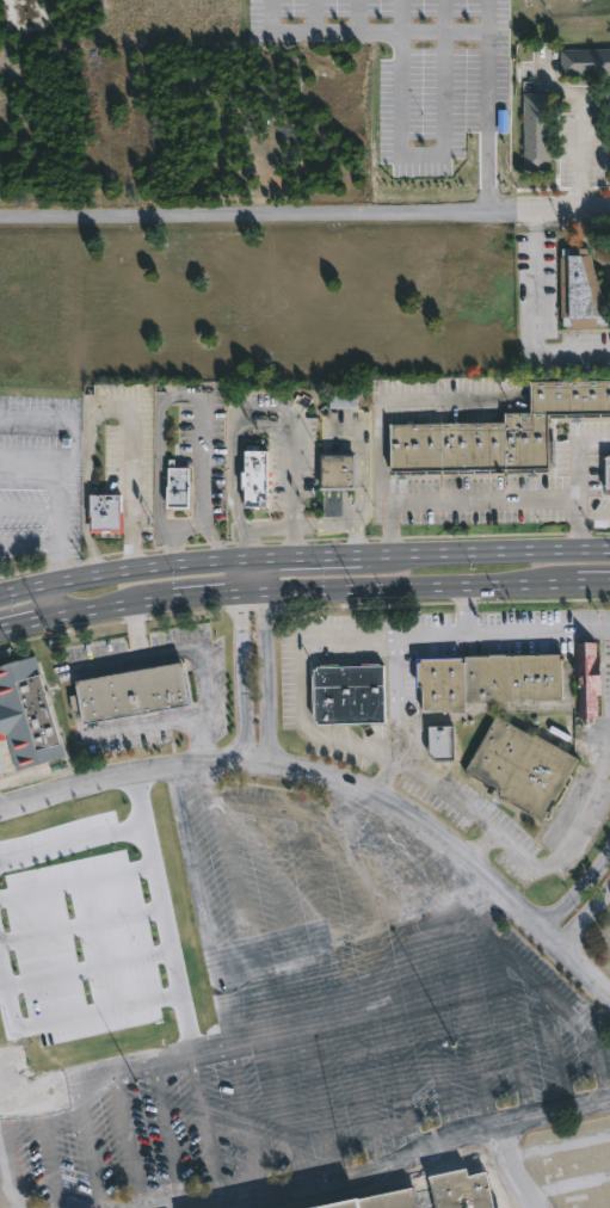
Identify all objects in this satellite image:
road: (314, 16)
road: (357, 17)
road: (401, 17)
road: (443, 17)
road: (363, 33)
building: (585, 61)
road: (485, 106)
road: (578, 129)
building: (537, 130)
road: (421, 154)
road: (304, 215)
building: (581, 290)
road: (534, 316)
road: (171, 395)
building: (344, 400)
road: (32, 418)
building: (73, 429)
building: (498, 431)
parking lot: (44, 456)
road: (292, 468)
building: (338, 469)
building: (255, 475)
building: (609, 475)
road: (85, 479)
building: (179, 485)
road: (57, 486)
road: (578, 486)
road: (359, 487)
road: (130, 489)
road: (233, 494)
road: (457, 500)
building: (106, 512)
road: (325, 520)
road: (267, 525)
road: (205, 530)
road: (29, 550)
road: (174, 555)
road: (488, 556)
road: (315, 563)
road: (252, 566)
road: (184, 568)
road: (56, 569)
road: (115, 575)
road: (78, 581)
road: (239, 581)
road: (593, 581)
road: (407, 587)
road: (27, 592)
road: (207, 597)
road: (152, 600)
road: (55, 603)
road: (462, 609)
road: (92, 610)
road: (27, 624)
road: (536, 630)
road: (430, 634)
road: (269, 662)
road: (100, 667)
road: (242, 678)
building: (489, 678)
building: (589, 678)
road: (302, 682)
road: (203, 685)
building: (133, 690)
road: (398, 691)
building: (350, 694)
building: (27, 715)
building: (443, 741)
road: (201, 744)
road: (606, 751)
building: (524, 765)
road: (387, 775)
road: (335, 785)
road: (444, 800)
road: (0, 814)
road: (79, 849)
road: (552, 861)
road: (82, 888)
road: (578, 893)
road: (173, 908)
road: (584, 917)
road: (91, 933)
road: (100, 978)
road: (281, 1018)
road: (51, 1027)
building: (387, 1201)

